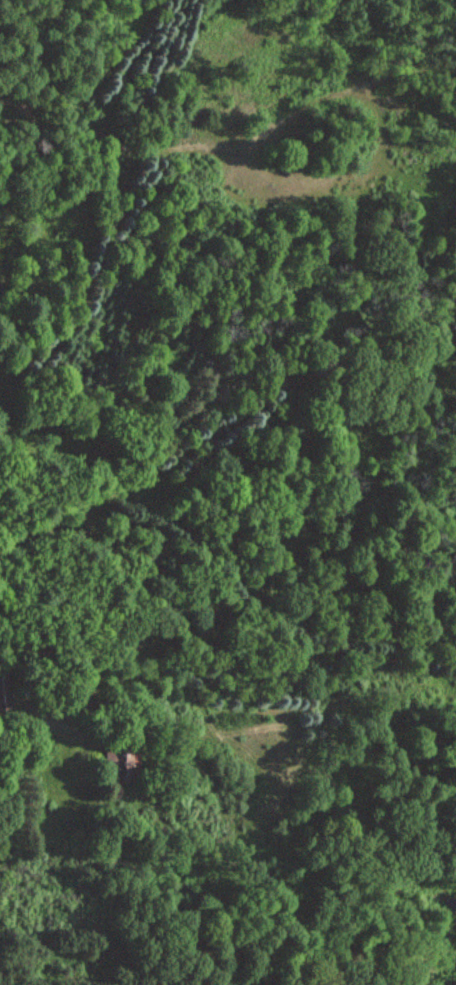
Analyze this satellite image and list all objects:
road: (115, 521)
building: (2, 693)

